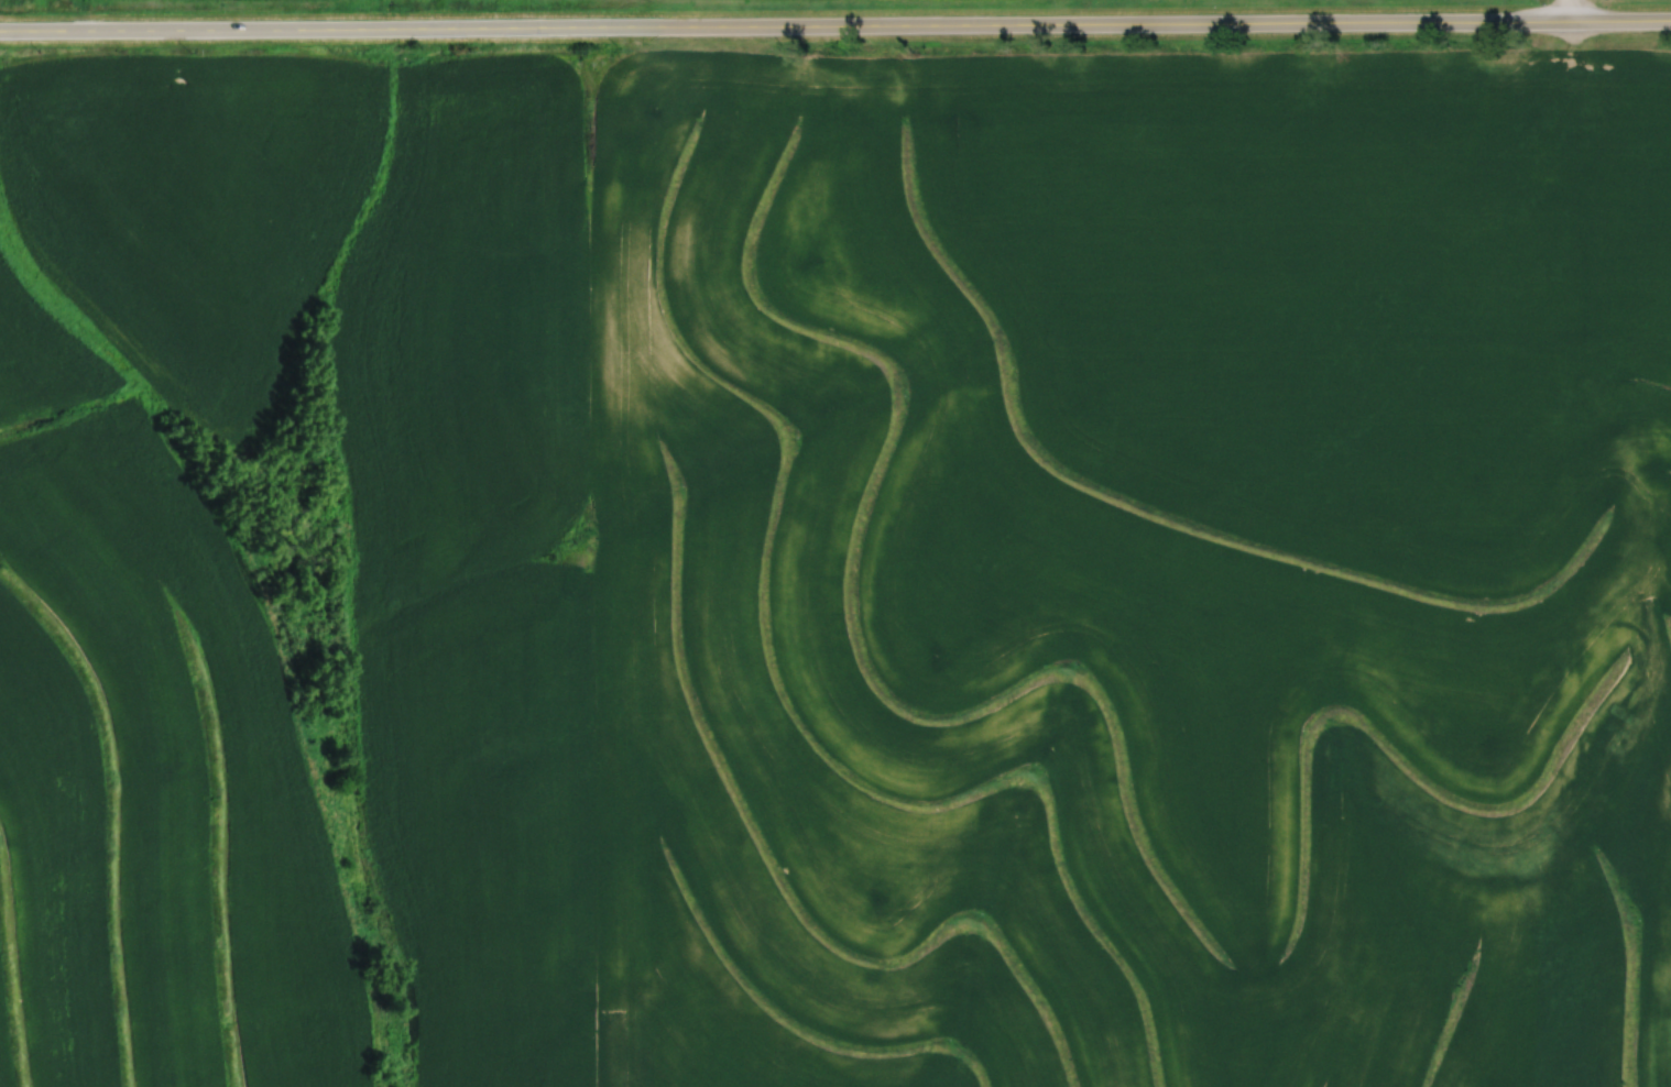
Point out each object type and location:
road: (1562, 10)
road: (834, 24)

